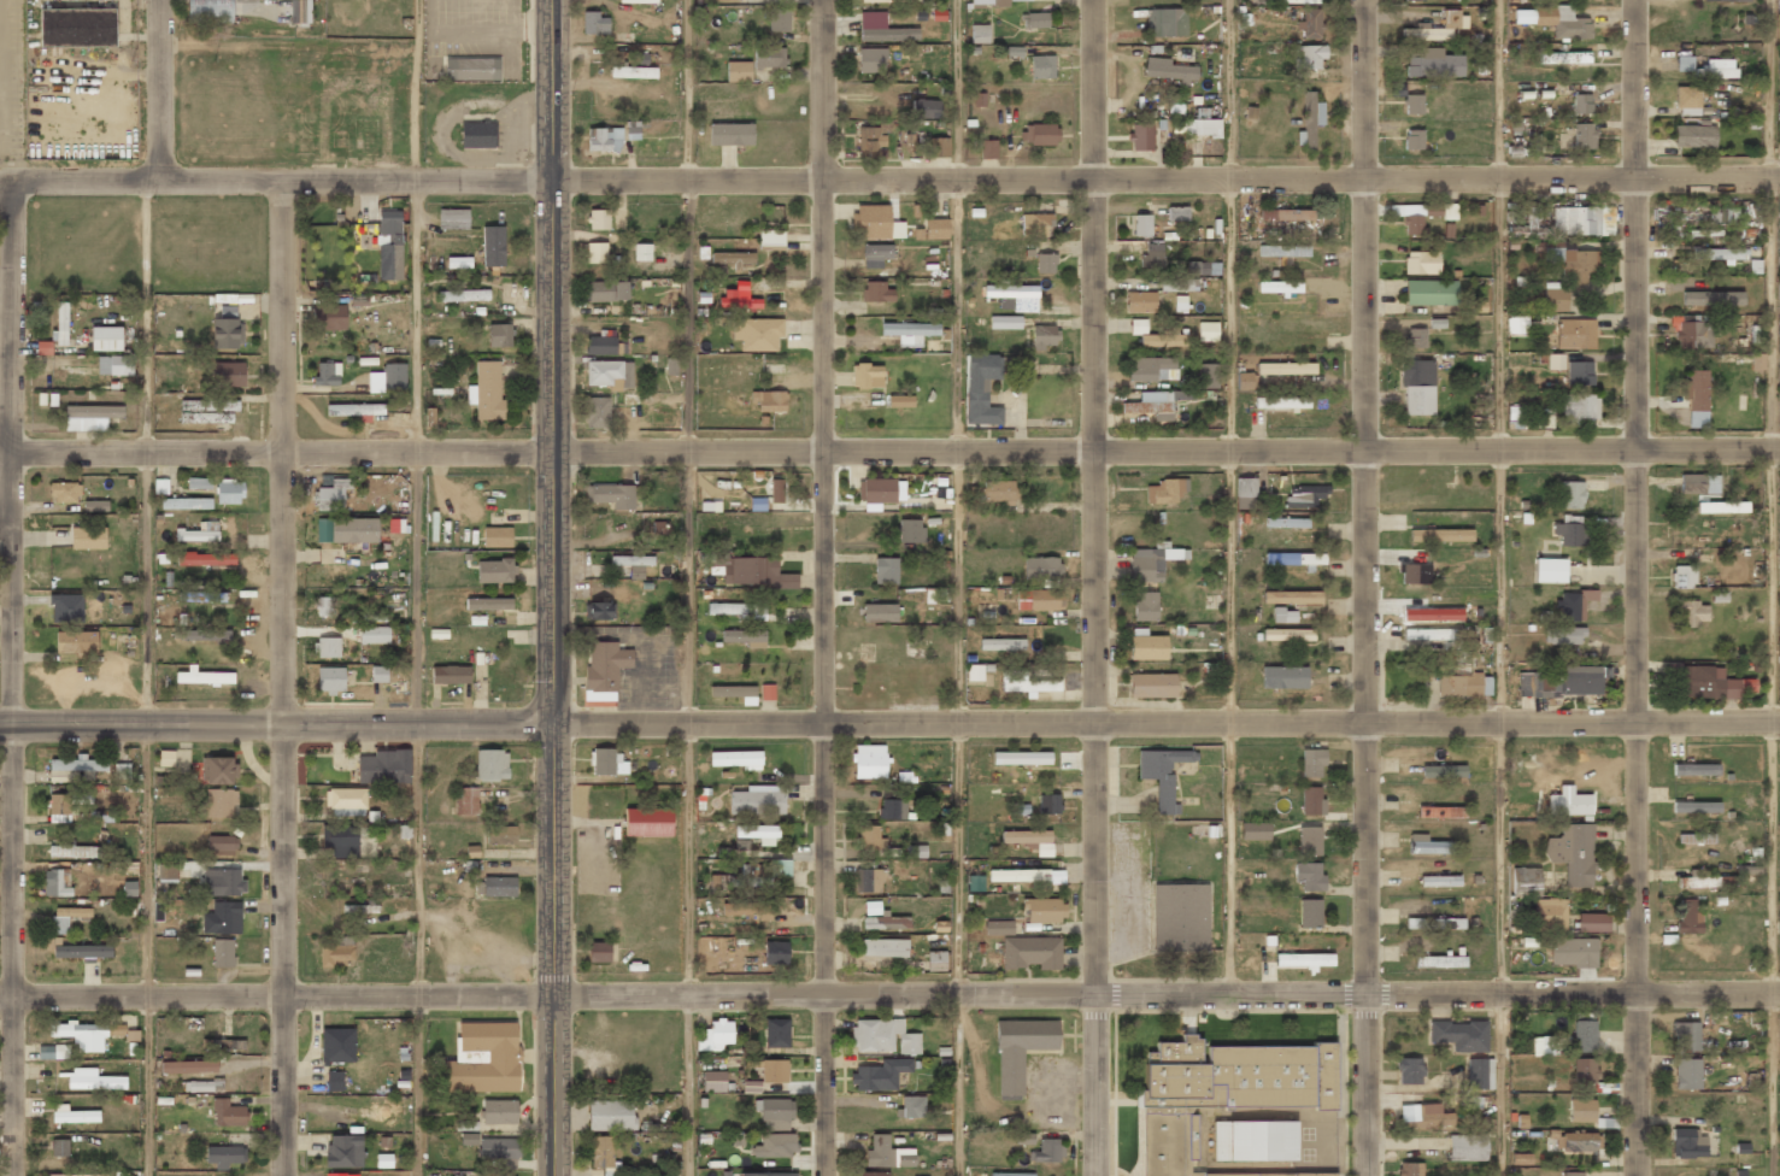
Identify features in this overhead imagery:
building: (880, 0)
building: (1415, 0)
building: (1727, 0)
building: (636, 1)
building: (1299, 1)
building: (989, 2)
building: (210, 11)
building: (300, 11)
building: (1034, 19)
building: (779, 20)
building: (1555, 20)
building: (1165, 22)
building: (594, 23)
building: (1311, 23)
building: (77, 28)
building: (882, 29)
building: (980, 34)
building: (768, 57)
building: (1308, 57)
building: (870, 60)
building: (1684, 63)
building: (1434, 64)
building: (1041, 66)
building: (471, 69)
building: (1167, 69)
building: (1715, 69)
building: (738, 71)
building: (633, 72)
road: (158, 88)
building: (1396, 89)
building: (1687, 96)
building: (1414, 104)
building: (1581, 104)
building: (924, 107)
building: (1309, 120)
building: (1202, 128)
building: (730, 134)
building: (1039, 134)
building: (477, 135)
building: (1584, 136)
building: (1693, 136)
building: (1141, 137)
building: (604, 139)
building: (871, 139)
building: (1412, 140)
building: (938, 147)
building: (988, 149)
road: (893, 178)
building: (1449, 211)
building: (1177, 213)
building: (1285, 214)
building: (1414, 216)
building: (1725, 216)
building: (1537, 217)
building: (453, 218)
building: (598, 219)
building: (1582, 220)
building: (870, 222)
building: (1035, 224)
building: (1141, 225)
building: (935, 229)
building: (770, 239)
building: (389, 245)
building: (493, 246)
building: (1282, 251)
building: (595, 252)
building: (641, 252)
building: (875, 254)
building: (1720, 254)
building: (1152, 255)
building: (733, 258)
building: (458, 263)
building: (1421, 263)
building: (1045, 264)
building: (1202, 267)
building: (1779, 278)
building: (1177, 284)
building: (1279, 287)
building: (606, 292)
building: (876, 292)
building: (1010, 292)
building: (1429, 293)
building: (463, 295)
building: (738, 298)
building: (1555, 298)
building: (1713, 298)
building: (1140, 301)
building: (1180, 304)
building: (328, 317)
building: (1004, 322)
building: (60, 323)
building: (1516, 324)
building: (1138, 327)
building: (227, 329)
building: (1208, 331)
building: (910, 333)
building: (757, 334)
building: (1575, 334)
building: (1693, 334)
building: (499, 335)
building: (1044, 336)
building: (1415, 337)
building: (105, 339)
building: (1163, 339)
building: (600, 345)
building: (43, 347)
road: (552, 360)
building: (1555, 361)
building: (121, 365)
building: (1151, 369)
building: (1285, 369)
building: (1579, 372)
building: (228, 374)
building: (328, 374)
building: (610, 374)
building: (394, 376)
building: (866, 376)
building: (1208, 376)
building: (1244, 381)
building: (1417, 387)
building: (981, 389)
building: (486, 390)
building: (1696, 398)
building: (768, 401)
building: (900, 401)
building: (1281, 402)
building: (1156, 404)
building: (354, 410)
building: (1578, 410)
building: (207, 411)
building: (597, 412)
building: (89, 417)
road: (891, 452)
building: (199, 483)
building: (1699, 483)
building: (1245, 487)
building: (775, 490)
building: (880, 490)
building: (1165, 490)
building: (64, 492)
building: (229, 492)
building: (999, 493)
building: (1570, 494)
building: (333, 495)
building: (611, 495)
building: (1305, 495)
road: (1230, 498)
building: (1245, 502)
building: (186, 504)
building: (95, 506)
building: (1722, 507)
building: (1286, 523)
road: (2, 528)
building: (347, 530)
building: (204, 531)
building: (910, 531)
building: (1570, 533)
building: (1440, 535)
building: (88, 537)
building: (497, 537)
building: (206, 559)
building: (1296, 559)
building: (1151, 561)
building: (633, 564)
building: (1041, 568)
building: (885, 570)
building: (1549, 570)
building: (494, 571)
building: (1415, 574)
building: (1682, 577)
road: (417, 587)
road: (691, 587)
road: (819, 587)
road: (1095, 587)
road: (1368, 587)
road: (1500, 587)
road: (1641, 587)
road: (1772, 587)
road: (957, 588)
building: (1291, 596)
building: (1039, 600)
building: (488, 604)
building: (1574, 604)
building: (322, 606)
building: (1145, 606)
building: (66, 608)
building: (739, 610)
building: (597, 611)
building: (879, 612)
building: (1693, 613)
building: (1432, 615)
building: (1283, 616)
building: (200, 633)
building: (1287, 634)
building: (1432, 634)
building: (374, 635)
building: (1562, 635)
building: (745, 637)
building: (76, 642)
building: (1001, 645)
building: (327, 647)
building: (604, 668)
building: (974, 672)
building: (378, 674)
building: (450, 675)
road: (146, 676)
road: (10, 677)
building: (204, 677)
road: (281, 677)
building: (1283, 677)
building: (330, 678)
building: (1030, 680)
building: (1563, 682)
building: (1703, 683)
building: (1151, 686)
building: (1464, 686)
building: (768, 692)
building: (735, 693)
road: (277, 723)
road: (1167, 725)
building: (1021, 758)
building: (735, 759)
building: (869, 762)
building: (609, 763)
building: (1311, 763)
building: (490, 765)
building: (76, 766)
building: (384, 768)
building: (1694, 769)
building: (217, 770)
building: (122, 771)
building: (1443, 771)
building: (1162, 775)
building: (465, 800)
building: (757, 800)
building: (1311, 800)
building: (346, 801)
building: (221, 804)
building: (1048, 804)
building: (1569, 804)
building: (1694, 807)
building: (59, 808)
building: (892, 808)
building: (1440, 812)
building: (647, 822)
building: (1255, 831)
building: (500, 834)
building: (758, 834)
building: (870, 839)
building: (1694, 839)
building: (341, 840)
building: (1029, 840)
building: (1309, 841)
building: (222, 845)
building: (1427, 845)
building: (72, 849)
building: (915, 851)
building: (1572, 853)
building: (168, 871)
building: (1309, 876)
building: (1027, 877)
building: (868, 880)
building: (1439, 881)
building: (1525, 881)
building: (57, 882)
building: (223, 882)
building: (1704, 882)
building: (498, 887)
building: (359, 909)
building: (748, 910)
building: (1045, 910)
building: (1310, 913)
building: (1547, 915)
building: (1180, 917)
building: (1688, 917)
building: (66, 918)
building: (223, 918)
building: (882, 918)
building: (1592, 922)
building: (1434, 923)
building: (998, 928)
building: (883, 947)
road: (556, 949)
building: (83, 952)
building: (223, 952)
building: (336, 952)
building: (599, 952)
building: (1032, 952)
building: (1573, 952)
building: (775, 953)
building: (1304, 960)
building: (935, 962)
building: (1440, 962)
road: (889, 993)
building: (776, 1033)
building: (81, 1035)
building: (1461, 1035)
building: (715, 1036)
building: (883, 1036)
building: (1584, 1036)
building: (1685, 1036)
building: (224, 1045)
building: (337, 1045)
building: (1541, 1046)
building: (1018, 1051)
building: (53, 1052)
building: (482, 1059)
building: (188, 1066)
building: (771, 1070)
building: (1409, 1070)
building: (1584, 1070)
building: (1479, 1074)
building: (1686, 1074)
building: (880, 1075)
building: (93, 1080)
building: (334, 1081)
building: (713, 1081)
building: (1222, 1093)
building: (911, 1106)
building: (1580, 1110)
building: (499, 1112)
building: (228, 1113)
building: (774, 1113)
building: (72, 1115)
building: (610, 1115)
building: (1423, 1116)
building: (469, 1139)
building: (1252, 1141)
building: (1575, 1141)
building: (1688, 1143)
building: (775, 1146)
building: (59, 1147)
building: (1465, 1147)
building: (498, 1148)
building: (343, 1151)
building: (1045, 1151)
building: (887, 1153)
building: (224, 1156)
building: (604, 1156)
building: (1520, 1159)
building: (1410, 1169)
building: (341, 1174)
building: (765, 1174)
building: (873, 1174)
building: (1010, 1174)
building: (1572, 1174)
building: (80, 1175)
building: (499, 1175)

